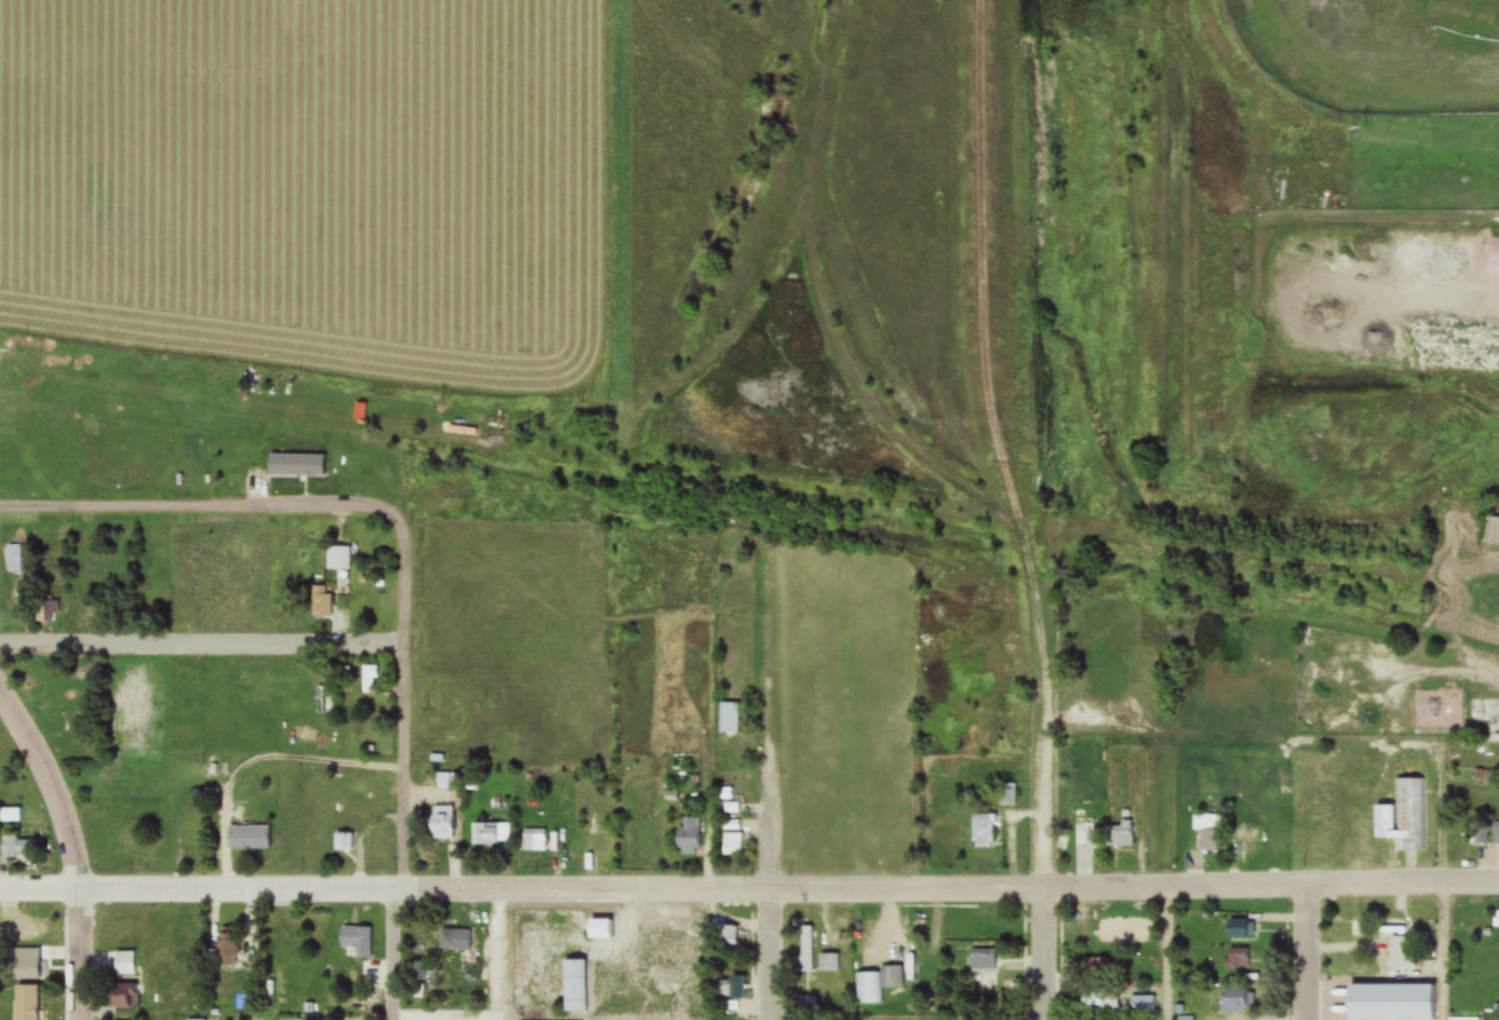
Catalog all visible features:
building: (296, 464)
road: (200, 512)
building: (1491, 531)
building: (338, 557)
building: (14, 558)
building: (320, 601)
road: (204, 643)
building: (369, 679)
building: (43, 684)
building: (320, 699)
building: (729, 717)
building: (1486, 717)
road: (1038, 742)
road: (260, 767)
road: (405, 767)
building: (447, 779)
building: (1010, 795)
building: (1404, 816)
building: (442, 823)
building: (983, 831)
building: (1083, 831)
building: (1208, 832)
building: (491, 833)
building: (1121, 834)
building: (1477, 835)
building: (688, 836)
building: (248, 838)
building: (534, 840)
building: (732, 840)
building: (1495, 840)
building: (596, 843)
road: (766, 846)
road: (73, 847)
building: (19, 848)
road: (749, 886)
building: (1496, 923)
building: (1239, 929)
building: (599, 930)
building: (22, 931)
building: (866, 934)
building: (730, 936)
building: (456, 940)
building: (357, 942)
building: (230, 948)
building: (806, 950)
road: (1306, 951)
road: (768, 953)
road: (1038, 953)
building: (982, 959)
building: (1234, 960)
building: (828, 964)
building: (26, 965)
building: (1094, 968)
building: (876, 984)
building: (576, 986)
building: (121, 996)
building: (1099, 1000)
building: (1232, 1000)
building: (1390, 1002)
building: (26, 1003)
building: (1141, 1005)

